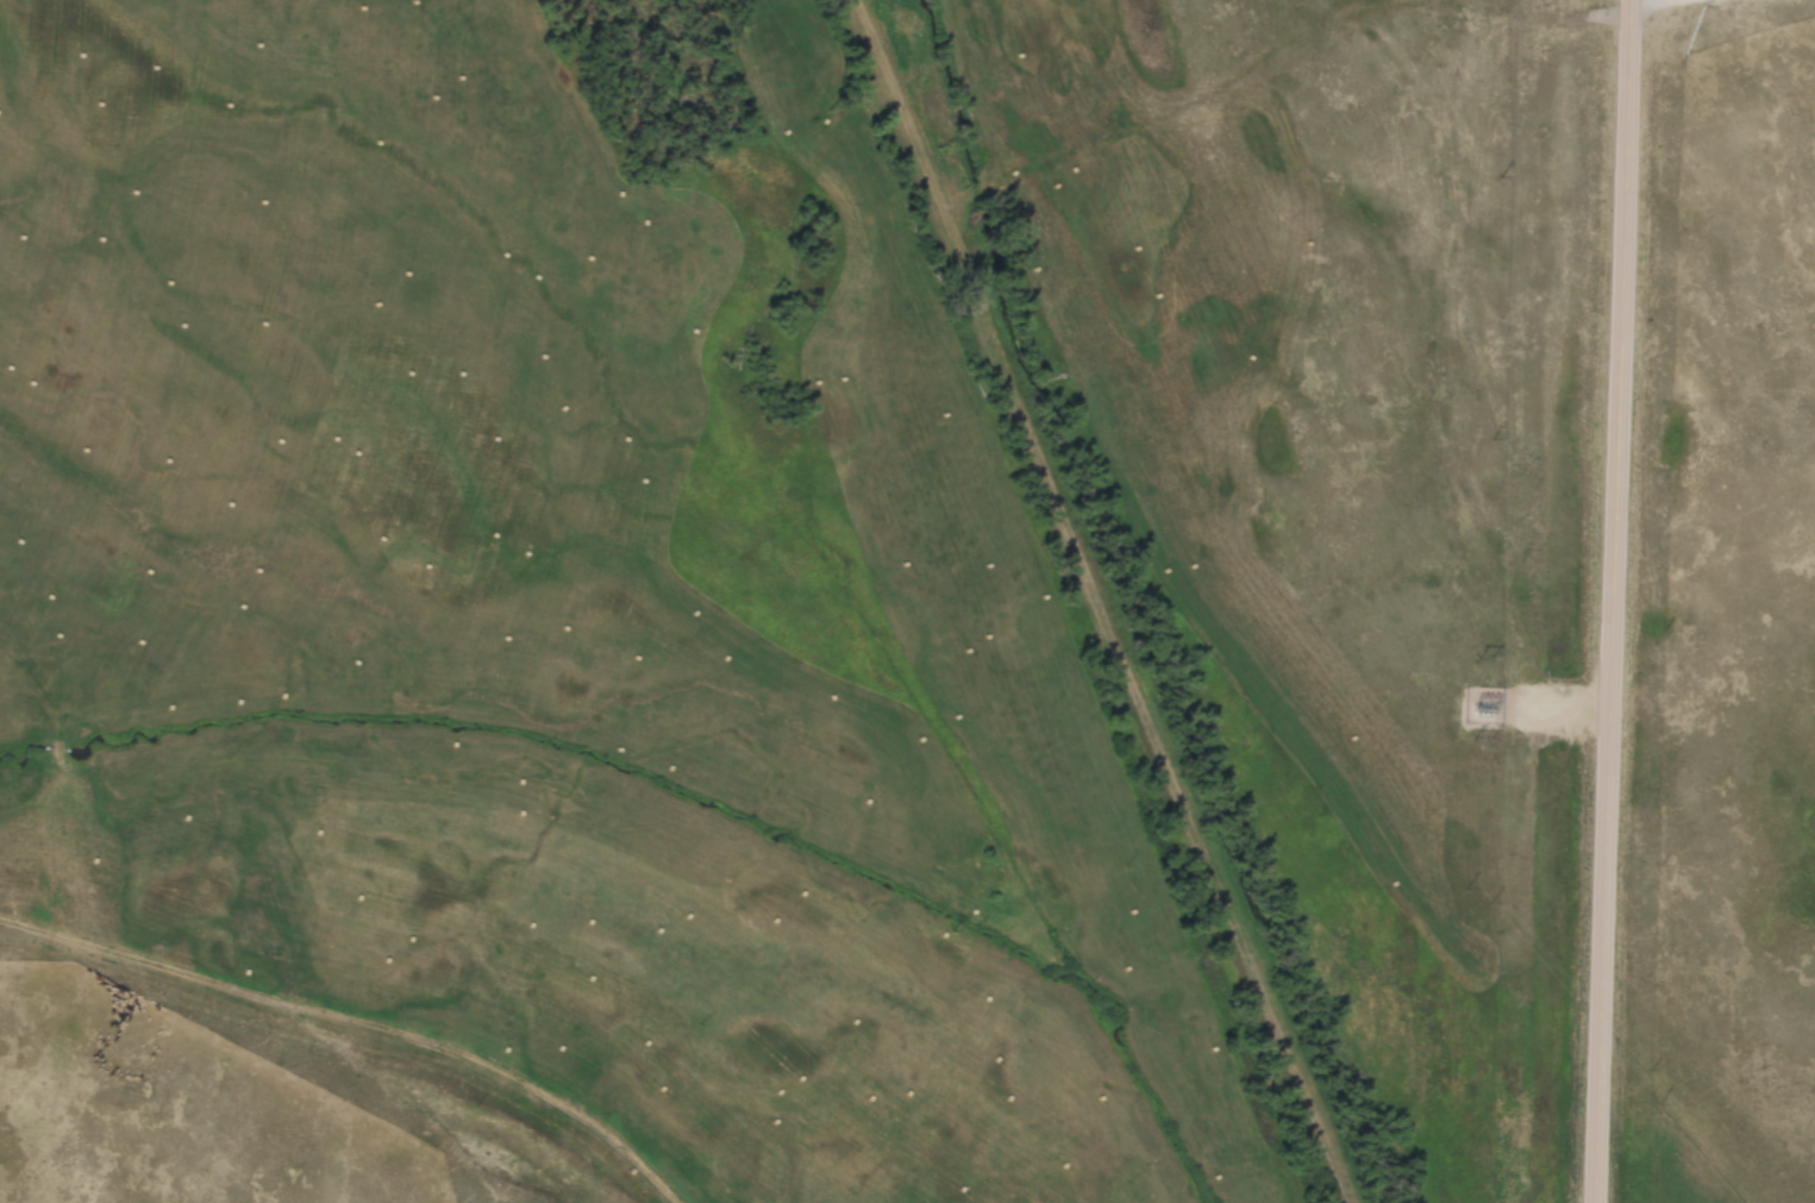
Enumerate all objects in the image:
road: (1633, 0)
road: (1609, 601)
road: (1106, 603)
power substation: (1483, 703)
road: (1558, 706)
road: (363, 1022)

